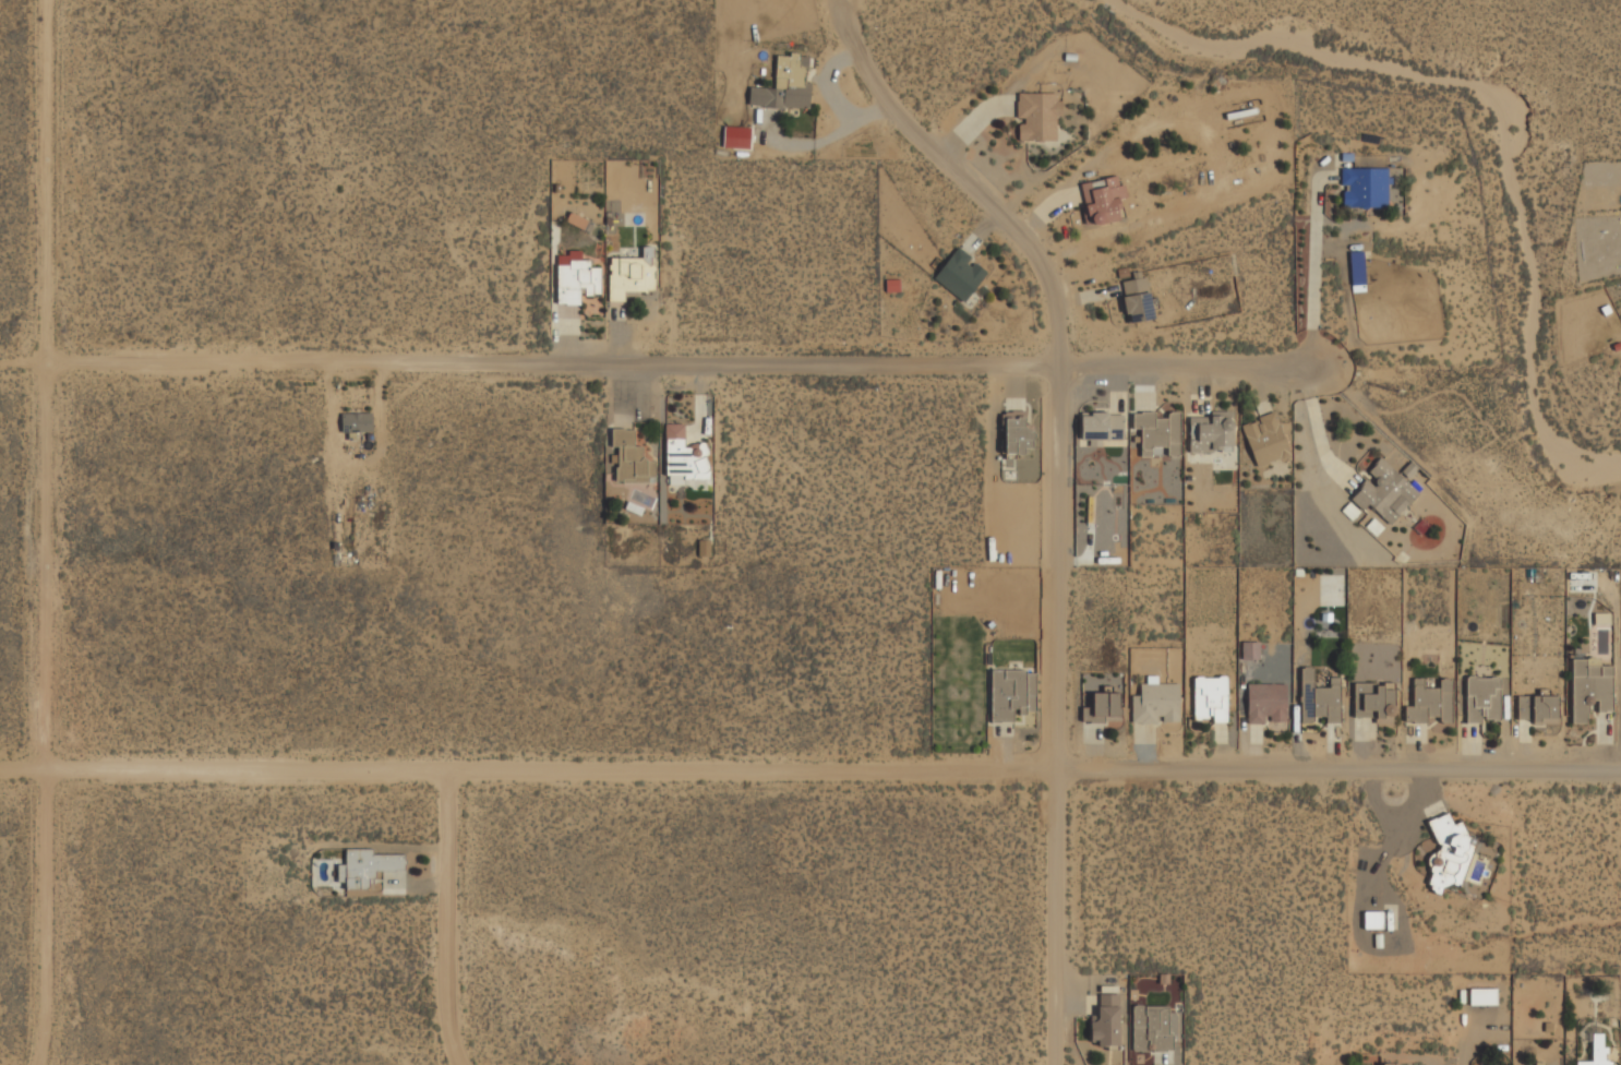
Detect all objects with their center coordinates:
building: (783, 86)
building: (1036, 117)
building: (735, 137)
building: (1364, 188)
building: (1102, 200)
building: (1356, 270)
road: (1313, 273)
building: (631, 274)
building: (959, 275)
building: (575, 278)
building: (1137, 300)
road: (25, 364)
road: (682, 364)
building: (1101, 427)
building: (1211, 432)
building: (1016, 433)
building: (1157, 433)
building: (1265, 440)
building: (629, 458)
building: (684, 459)
building: (1384, 491)
road: (1055, 496)
road: (51, 534)
building: (703, 548)
building: (1250, 650)
building: (1589, 691)
building: (1030, 692)
building: (1007, 695)
building: (1210, 698)
building: (1481, 698)
building: (1430, 702)
building: (1155, 703)
building: (1265, 703)
building: (1374, 703)
building: (1102, 708)
building: (1537, 709)
road: (809, 771)
building: (1448, 853)
road: (447, 920)
building: (1372, 920)
building: (1482, 997)
building: (1105, 1021)
building: (1150, 1028)
building: (1596, 1052)
building: (1390, 1064)
building: (1539, 1064)

